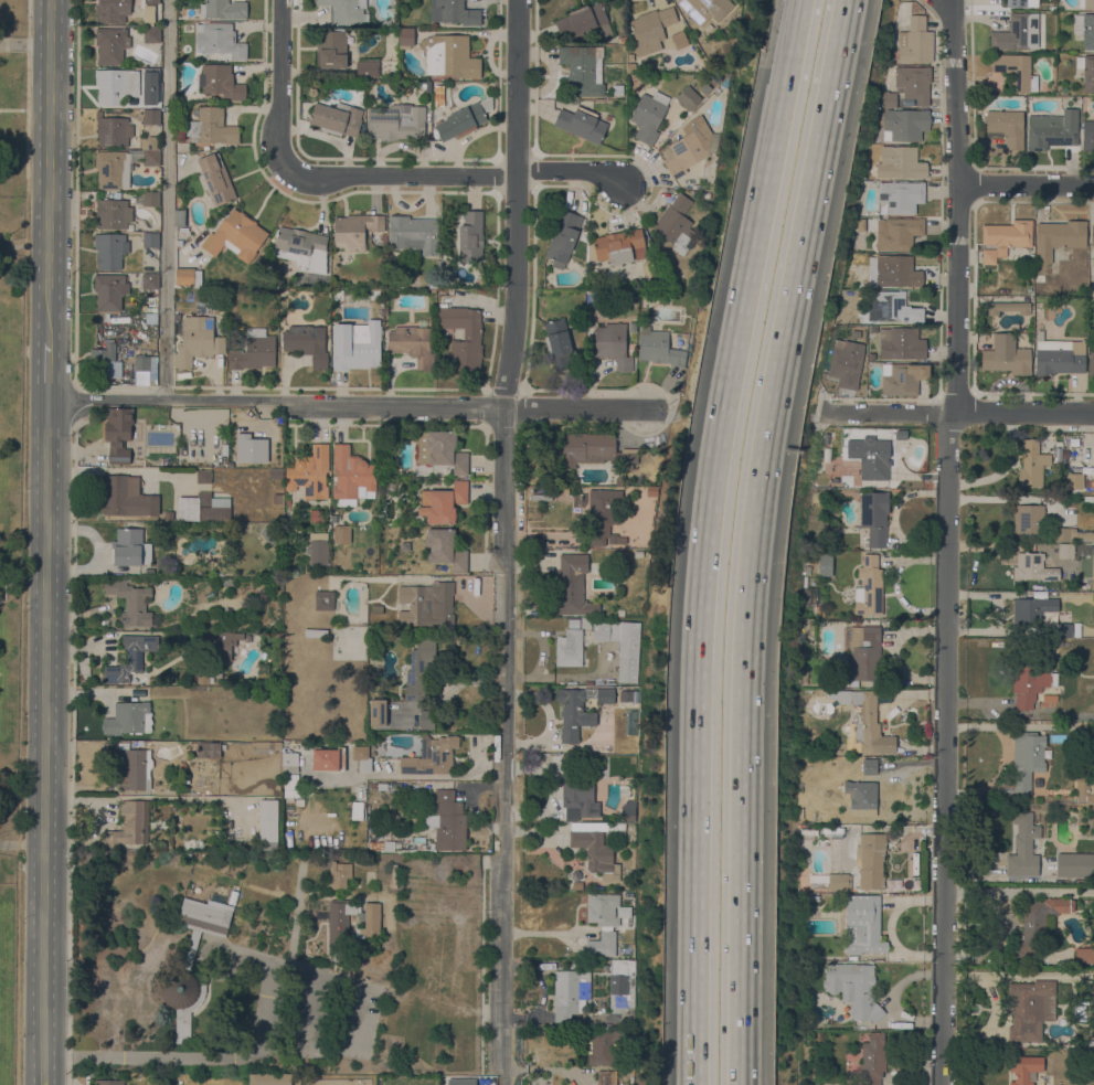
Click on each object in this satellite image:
building: (1020, 3)
building: (1086, 3)
building: (224, 9)
building: (704, 9)
building: (113, 10)
building: (148, 10)
building: (344, 11)
building: (454, 12)
building: (583, 20)
building: (650, 29)
building: (1084, 29)
building: (1018, 32)
building: (151, 34)
building: (406, 36)
building: (219, 40)
building: (622, 40)
building: (679, 41)
building: (915, 41)
road: (23, 43)
building: (111, 45)
building: (331, 50)
building: (450, 56)
building: (367, 68)
building: (583, 70)
building: (1016, 71)
building: (1086, 72)
building: (151, 75)
building: (220, 82)
road: (279, 83)
building: (422, 84)
building: (116, 86)
building: (909, 86)
building: (704, 88)
road: (26, 93)
building: (438, 95)
building: (688, 97)
road: (13, 109)
building: (151, 116)
building: (648, 116)
building: (337, 119)
building: (464, 119)
building: (396, 121)
building: (581, 124)
building: (904, 124)
building: (211, 127)
building: (1007, 127)
building: (1052, 130)
building: (113, 131)
building: (1087, 135)
building: (151, 143)
building: (691, 147)
building: (901, 163)
building: (120, 167)
road: (569, 169)
road: (46, 170)
road: (401, 174)
building: (214, 180)
road: (1026, 185)
building: (900, 196)
building: (150, 199)
road: (166, 199)
road: (957, 205)
building: (111, 212)
building: (179, 219)
building: (676, 224)
building: (354, 230)
building: (413, 234)
building: (899, 234)
building: (235, 236)
building: (470, 236)
building: (1092, 236)
road: (75, 237)
building: (1058, 237)
building: (563, 238)
building: (1003, 238)
building: (150, 240)
building: (617, 247)
building: (301, 248)
building: (110, 251)
building: (893, 270)
building: (188, 277)
building: (149, 280)
building: (109, 291)
building: (893, 307)
building: (1007, 308)
building: (222, 328)
building: (556, 338)
building: (471, 339)
building: (197, 340)
building: (307, 343)
building: (901, 343)
building: (412, 344)
building: (613, 345)
building: (658, 348)
building: (254, 351)
building: (361, 351)
building: (1006, 355)
building: (870, 357)
building: (1060, 357)
building: (104, 362)
building: (1092, 362)
building: (846, 363)
building: (147, 369)
road: (46, 370)
building: (140, 370)
building: (903, 379)
road: (347, 405)
road: (74, 407)
road: (956, 411)
building: (140, 412)
building: (118, 434)
building: (249, 449)
building: (440, 450)
building: (594, 450)
building: (870, 457)
building: (1031, 465)
building: (275, 474)
building: (309, 474)
building: (203, 477)
building: (351, 477)
building: (1074, 481)
building: (622, 482)
building: (277, 494)
building: (127, 497)
building: (443, 502)
building: (203, 508)
building: (169, 515)
building: (316, 515)
building: (603, 517)
building: (874, 517)
building: (333, 519)
building: (1029, 520)
building: (341, 534)
building: (1072, 535)
building: (267, 536)
road: (708, 538)
road: (751, 538)
road: (502, 543)
building: (130, 547)
building: (317, 549)
building: (445, 549)
building: (1065, 551)
building: (825, 564)
building: (1033, 567)
building: (229, 582)
building: (572, 585)
building: (868, 587)
building: (323, 600)
building: (130, 602)
building: (426, 605)
building: (376, 609)
building: (1031, 610)
building: (573, 623)
building: (585, 623)
building: (1064, 630)
building: (315, 632)
building: (219, 645)
building: (622, 646)
building: (570, 649)
building: (863, 653)
building: (129, 658)
building: (263, 669)
building: (418, 670)
building: (203, 678)
building: (804, 678)
building: (1030, 683)
building: (625, 695)
building: (1049, 698)
building: (578, 710)
building: (378, 712)
building: (129, 719)
building: (426, 720)
building: (865, 721)
road: (43, 741)
building: (265, 747)
road: (944, 747)
road: (72, 749)
building: (209, 749)
building: (432, 756)
building: (361, 758)
building: (328, 759)
building: (1027, 759)
building: (289, 763)
building: (183, 765)
building: (134, 767)
building: (868, 767)
building: (185, 779)
building: (290, 785)
building: (373, 785)
building: (393, 785)
building: (382, 786)
building: (1083, 788)
building: (576, 793)
building: (862, 797)
building: (357, 810)
building: (807, 816)
building: (448, 821)
building: (129, 825)
building: (267, 825)
building: (613, 827)
building: (1024, 844)
building: (372, 845)
building: (379, 845)
building: (389, 845)
building: (595, 852)
building: (870, 860)
building: (1075, 864)
building: (339, 874)
building: (394, 875)
building: (838, 881)
building: (628, 895)
building: (811, 897)
building: (624, 912)
road: (19, 914)
building: (372, 919)
building: (602, 923)
building: (1035, 923)
building: (339, 924)
building: (863, 925)
building: (1084, 955)
building: (191, 961)
road: (298, 968)
building: (622, 981)
building: (853, 988)
building: (570, 993)
road: (314, 1009)
building: (1031, 1009)
building: (1079, 1013)
road: (359, 1019)
building: (626, 1023)
building: (1092, 1044)
building: (605, 1047)
road: (194, 1057)
building: (872, 1059)
building: (1024, 1068)
building: (605, 1077)
building: (274, 1079)
building: (108, 1082)

